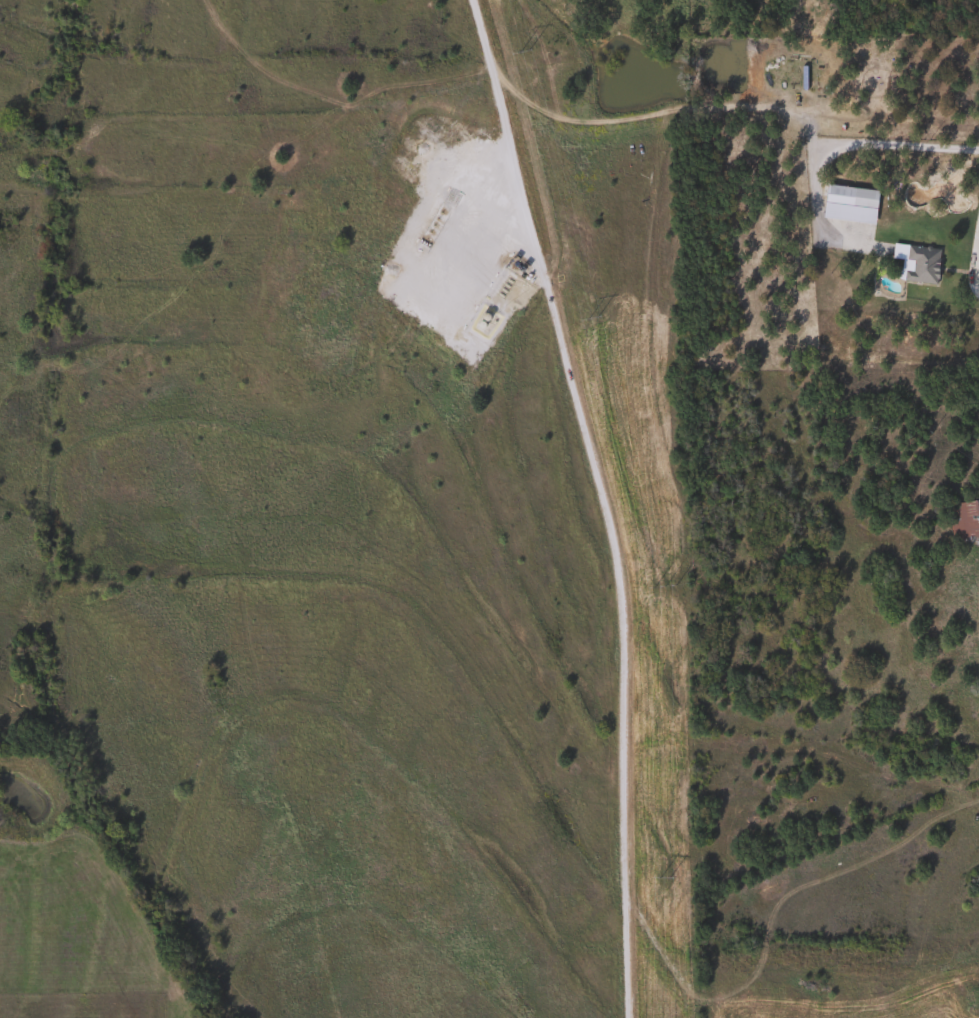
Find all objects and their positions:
power tower: (524, 52)
road: (901, 145)
building: (848, 196)
road: (977, 245)
building: (914, 263)
power tower: (593, 320)
road: (604, 501)
building: (964, 521)
power tower: (665, 586)
power tower: (665, 878)

